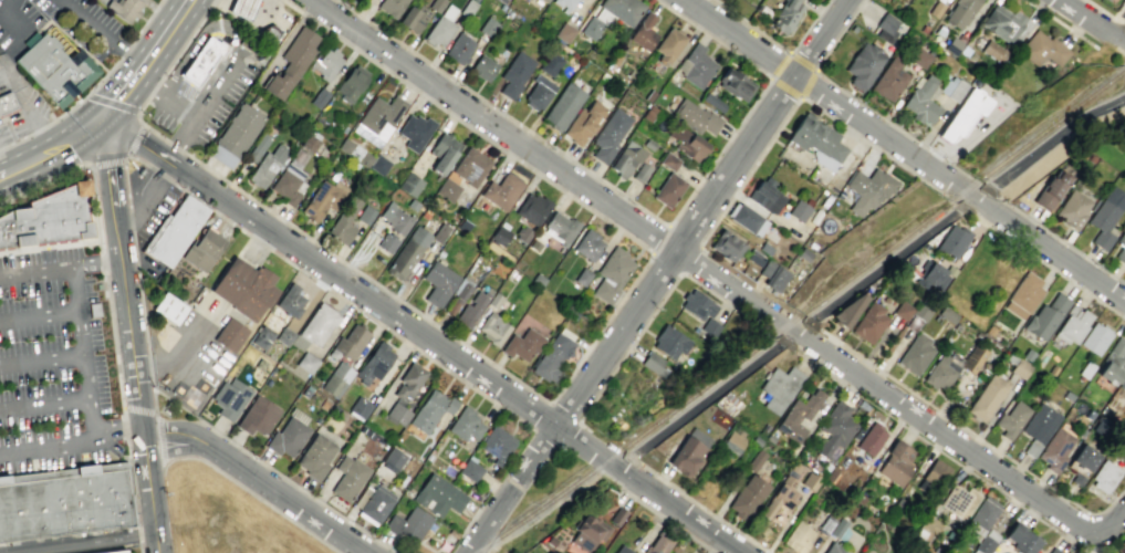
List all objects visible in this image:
building: (1106, 0)
building: (1108, 0)
building: (543, 1)
road: (211, 2)
building: (436, 4)
building: (564, 4)
building: (390, 7)
building: (242, 8)
gas station: (242, 8)
building: (467, 8)
building: (124, 9)
building: (936, 9)
road: (1097, 9)
building: (622, 10)
road: (213, 11)
building: (960, 12)
road: (9, 14)
building: (785, 14)
building: (414, 17)
road: (249, 18)
road: (146, 20)
road: (1090, 22)
road: (1059, 23)
road: (218, 24)
building: (1006, 24)
parking lot: (59, 25)
building: (440, 27)
building: (487, 27)
building: (886, 27)
building: (591, 28)
road: (1117, 28)
building: (564, 32)
building: (644, 32)
road: (98, 34)
building: (267, 34)
road: (160, 36)
road: (198, 39)
road: (1123, 39)
road: (186, 40)
building: (668, 44)
road: (777, 44)
building: (952, 45)
road: (1110, 48)
road: (126, 49)
building: (459, 49)
building: (1041, 49)
building: (963, 50)
building: (993, 51)
building: (918, 56)
building: (201, 60)
building: (291, 63)
building: (324, 63)
building: (863, 63)
building: (551, 64)
road: (778, 64)
road: (211, 65)
building: (697, 65)
building: (482, 67)
building: (54, 70)
building: (514, 74)
road: (103, 76)
building: (888, 80)
road: (211, 81)
building: (351, 82)
road: (148, 83)
building: (736, 84)
road: (806, 85)
road: (154, 87)
building: (952, 88)
building: (538, 92)
road: (117, 94)
building: (648, 95)
building: (319, 97)
road: (804, 100)
building: (923, 100)
parking lot: (199, 101)
building: (6, 102)
building: (712, 102)
road: (112, 103)
parking lot: (19, 104)
road: (865, 105)
building: (562, 106)
road: (27, 109)
road: (204, 114)
traffic signals: (101, 115)
building: (694, 115)
building: (963, 115)
building: (379, 116)
road: (93, 121)
building: (583, 123)
road: (142, 124)
road: (45, 125)
traffic signals: (85, 126)
building: (414, 132)
building: (608, 134)
road: (128, 135)
building: (236, 135)
road: (67, 137)
road: (180, 137)
building: (816, 139)
road: (1053, 139)
building: (688, 143)
building: (648, 144)
road: (174, 146)
building: (258, 147)
road: (45, 152)
building: (442, 152)
road: (905, 152)
building: (354, 153)
road: (125, 158)
building: (626, 158)
building: (668, 160)
road: (22, 164)
building: (378, 164)
road: (171, 165)
building: (265, 166)
building: (470, 166)
road: (1, 168)
building: (139, 170)
road: (1, 173)
building: (292, 173)
building: (640, 173)
road: (124, 174)
road: (163, 175)
road: (542, 177)
road: (108, 182)
road: (137, 182)
building: (408, 184)
building: (868, 188)
building: (447, 189)
building: (668, 189)
building: (501, 190)
building: (1050, 190)
building: (763, 195)
road: (972, 197)
building: (322, 199)
road: (149, 202)
road: (631, 202)
building: (532, 208)
parking lot: (147, 209)
building: (1072, 209)
building: (799, 210)
road: (699, 213)
building: (364, 215)
building: (1105, 216)
building: (49, 217)
building: (396, 218)
building: (746, 219)
building: (343, 221)
road: (131, 222)
building: (461, 226)
road: (667, 226)
building: (561, 227)
building: (176, 231)
building: (500, 233)
building: (522, 233)
road: (1055, 237)
building: (954, 240)
road: (101, 242)
building: (387, 242)
building: (533, 244)
building: (587, 244)
building: (727, 244)
road: (50, 246)
building: (1121, 246)
building: (764, 248)
building: (201, 249)
building: (412, 250)
building: (804, 254)
building: (753, 257)
road: (691, 262)
road: (884, 262)
road: (1043, 262)
road: (95, 264)
building: (611, 274)
building: (933, 274)
building: (772, 275)
road: (366, 276)
building: (582, 276)
building: (538, 279)
building: (438, 283)
building: (97, 285)
building: (246, 289)
road: (75, 290)
building: (458, 294)
building: (1023, 295)
building: (290, 300)
building: (493, 300)
road: (371, 301)
road: (658, 302)
building: (697, 304)
building: (169, 307)
road: (355, 307)
building: (93, 309)
building: (471, 309)
building: (902, 310)
building: (847, 311)
building: (921, 311)
railway: (800, 314)
building: (947, 314)
building: (1045, 316)
building: (868, 322)
road: (143, 324)
building: (319, 324)
building: (1072, 324)
building: (709, 327)
building: (493, 328)
building: (989, 330)
road: (794, 331)
road: (80, 333)
building: (230, 334)
building: (261, 336)
building: (283, 336)
building: (1095, 337)
building: (351, 341)
building: (669, 342)
building: (522, 344)
building: (914, 353)
building: (1028, 354)
building: (553, 355)
building: (1010, 357)
building: (971, 359)
building: (306, 362)
parking lot: (51, 363)
building: (374, 363)
building: (1113, 363)
building: (654, 364)
building: (1020, 367)
building: (938, 373)
road: (85, 378)
building: (336, 379)
building: (1122, 384)
building: (779, 387)
building: (189, 390)
building: (405, 392)
building: (987, 396)
building: (229, 398)
road: (704, 398)
road: (136, 399)
road: (550, 403)
building: (323, 404)
building: (360, 407)
road: (138, 408)
building: (430, 409)
building: (721, 410)
building: (1105, 411)
building: (798, 415)
building: (258, 416)
building: (342, 416)
road: (90, 419)
building: (1011, 419)
building: (465, 424)
road: (115, 426)
building: (1038, 427)
road: (124, 428)
building: (834, 428)
road: (966, 429)
road: (178, 432)
building: (288, 437)
building: (869, 439)
building: (733, 440)
road: (159, 441)
road: (608, 442)
road: (928, 442)
building: (496, 444)
building: (1058, 446)
road: (45, 447)
road: (177, 449)
building: (688, 451)
road: (123, 456)
building: (315, 456)
building: (393, 458)
road: (629, 458)
building: (756, 460)
building: (895, 462)
building: (1081, 462)
road: (614, 467)
road: (272, 470)
building: (470, 470)
road: (64, 472)
building: (934, 472)
building: (1104, 476)
building: (348, 478)
building: (809, 480)
road: (512, 490)
road: (647, 490)
road: (248, 492)
building: (780, 492)
road: (133, 495)
building: (438, 495)
building: (747, 497)
building: (64, 501)
road: (288, 501)
building: (958, 501)
building: (375, 504)
road: (700, 505)
road: (548, 514)
building: (616, 515)
building: (981, 517)
building: (408, 523)
building: (926, 529)
road: (1105, 529)
building: (838, 530)
building: (587, 532)
building: (796, 538)
building: (1020, 539)
road: (76, 540)
building: (551, 540)
building: (986, 542)
building: (658, 544)
building: (1121, 546)
building: (833, 549)
building: (622, 550)
building: (112, 551)
building: (1053, 551)

